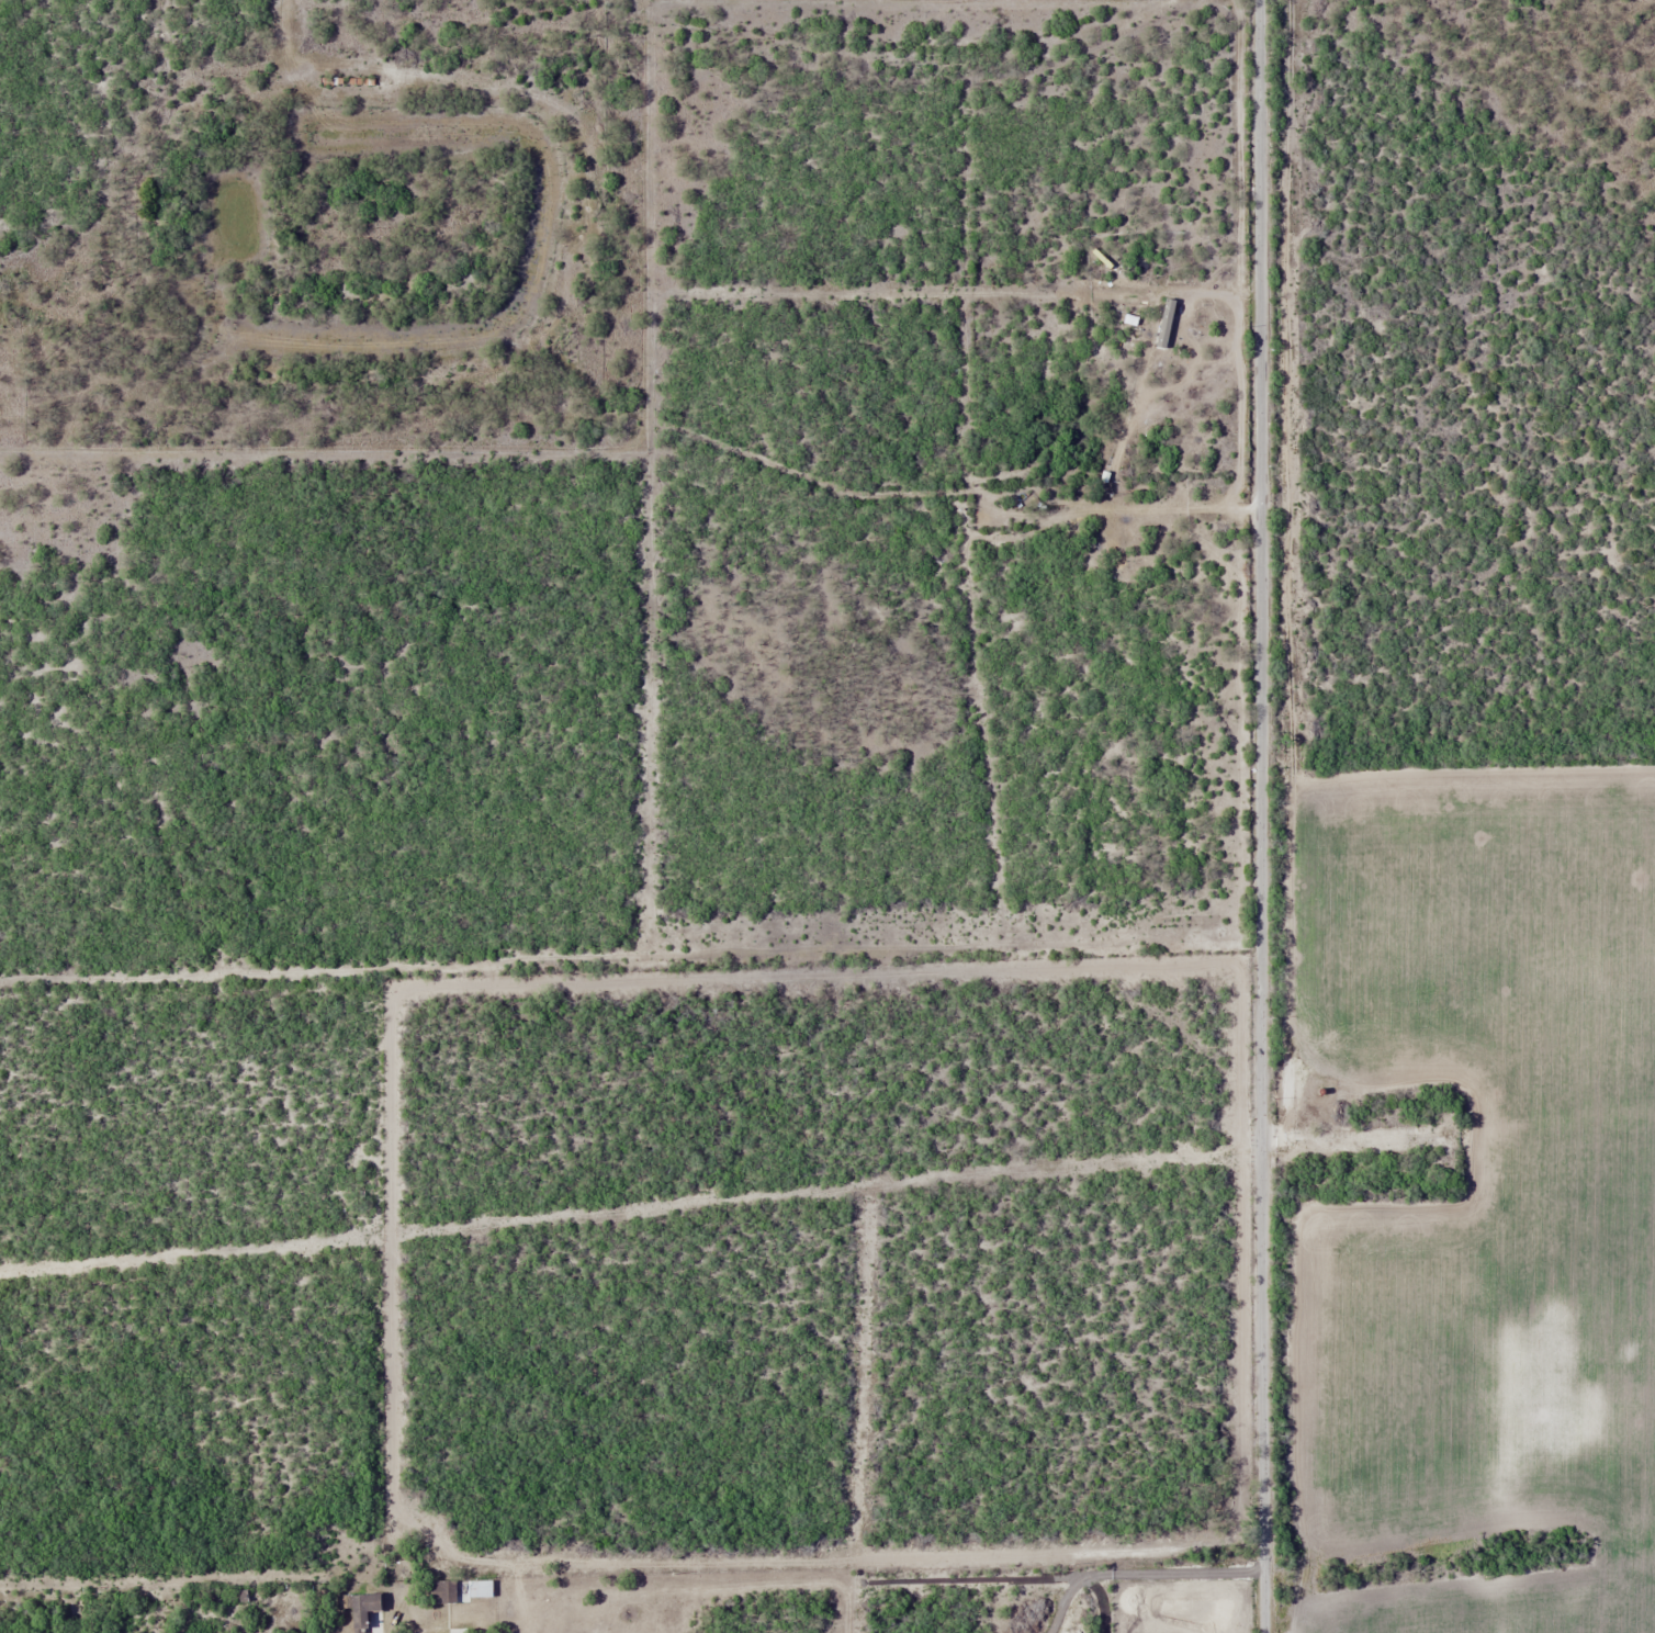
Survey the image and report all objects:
road: (1263, 815)
building: (458, 1590)
building: (360, 1609)

